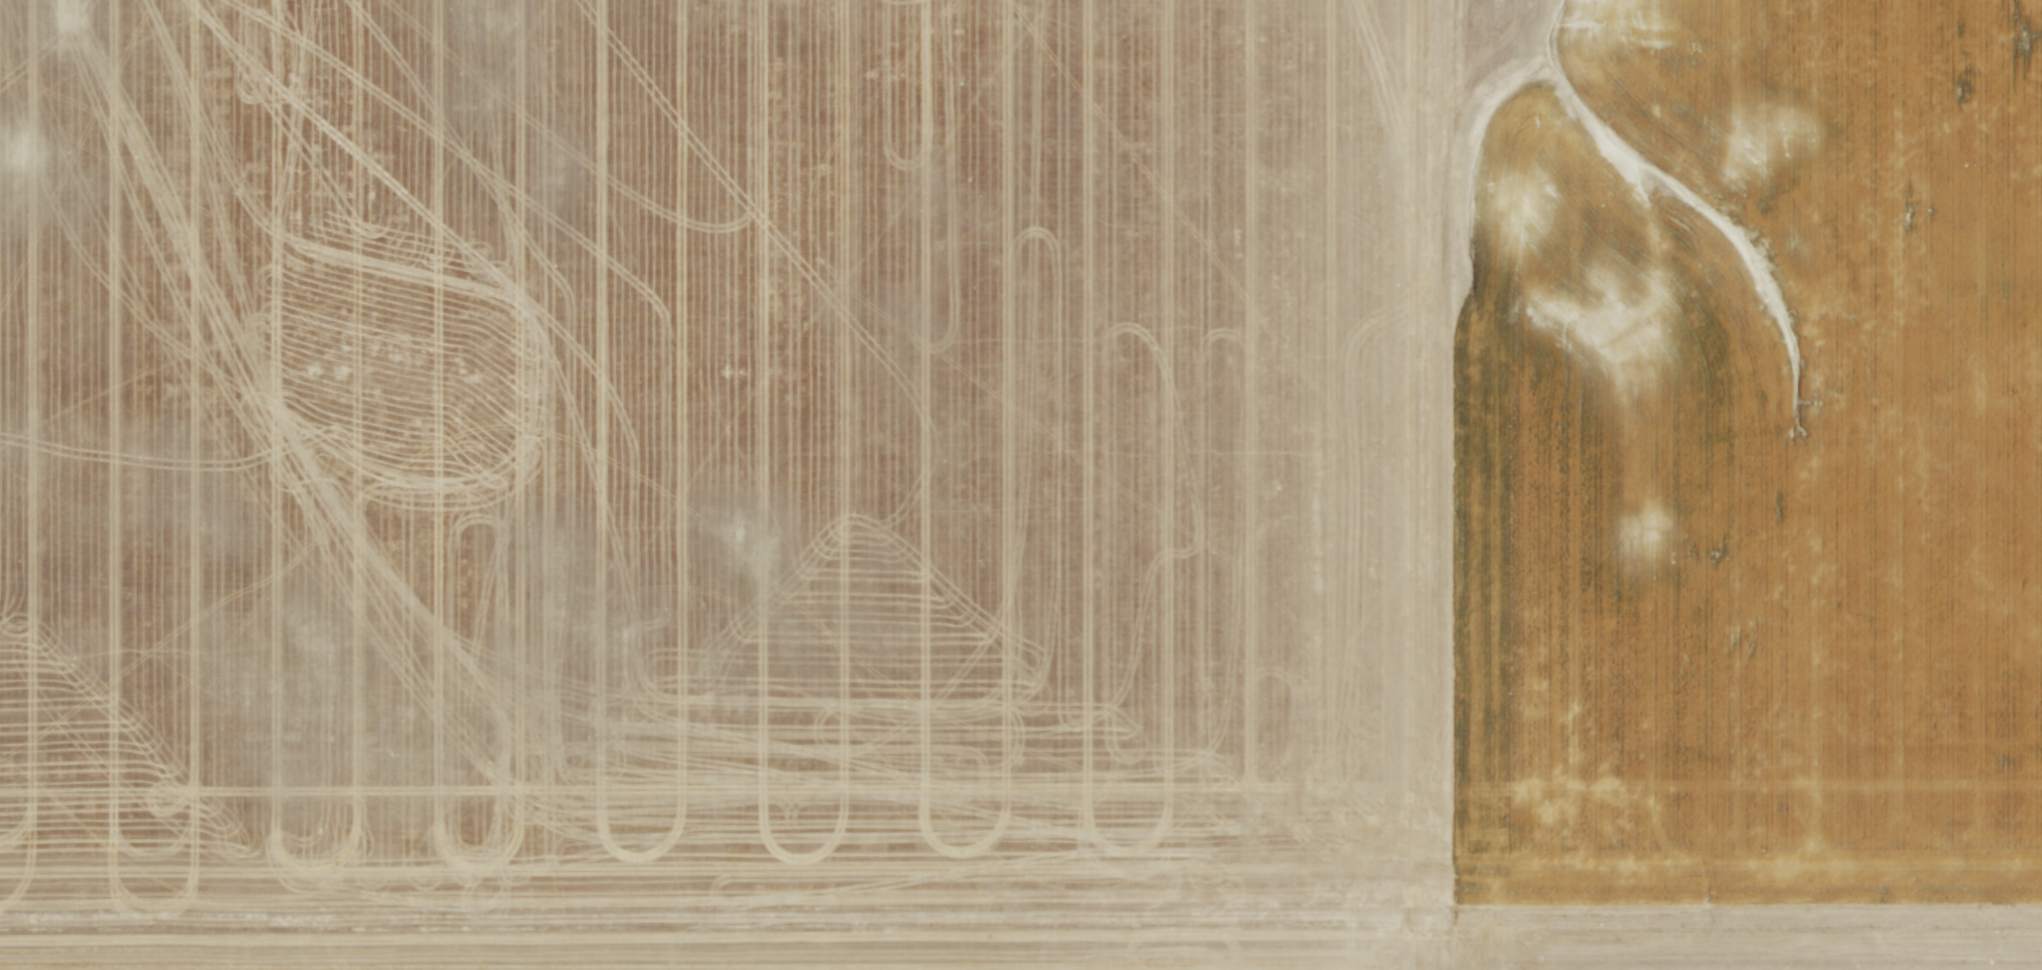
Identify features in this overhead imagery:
crop: (1021, 485)

